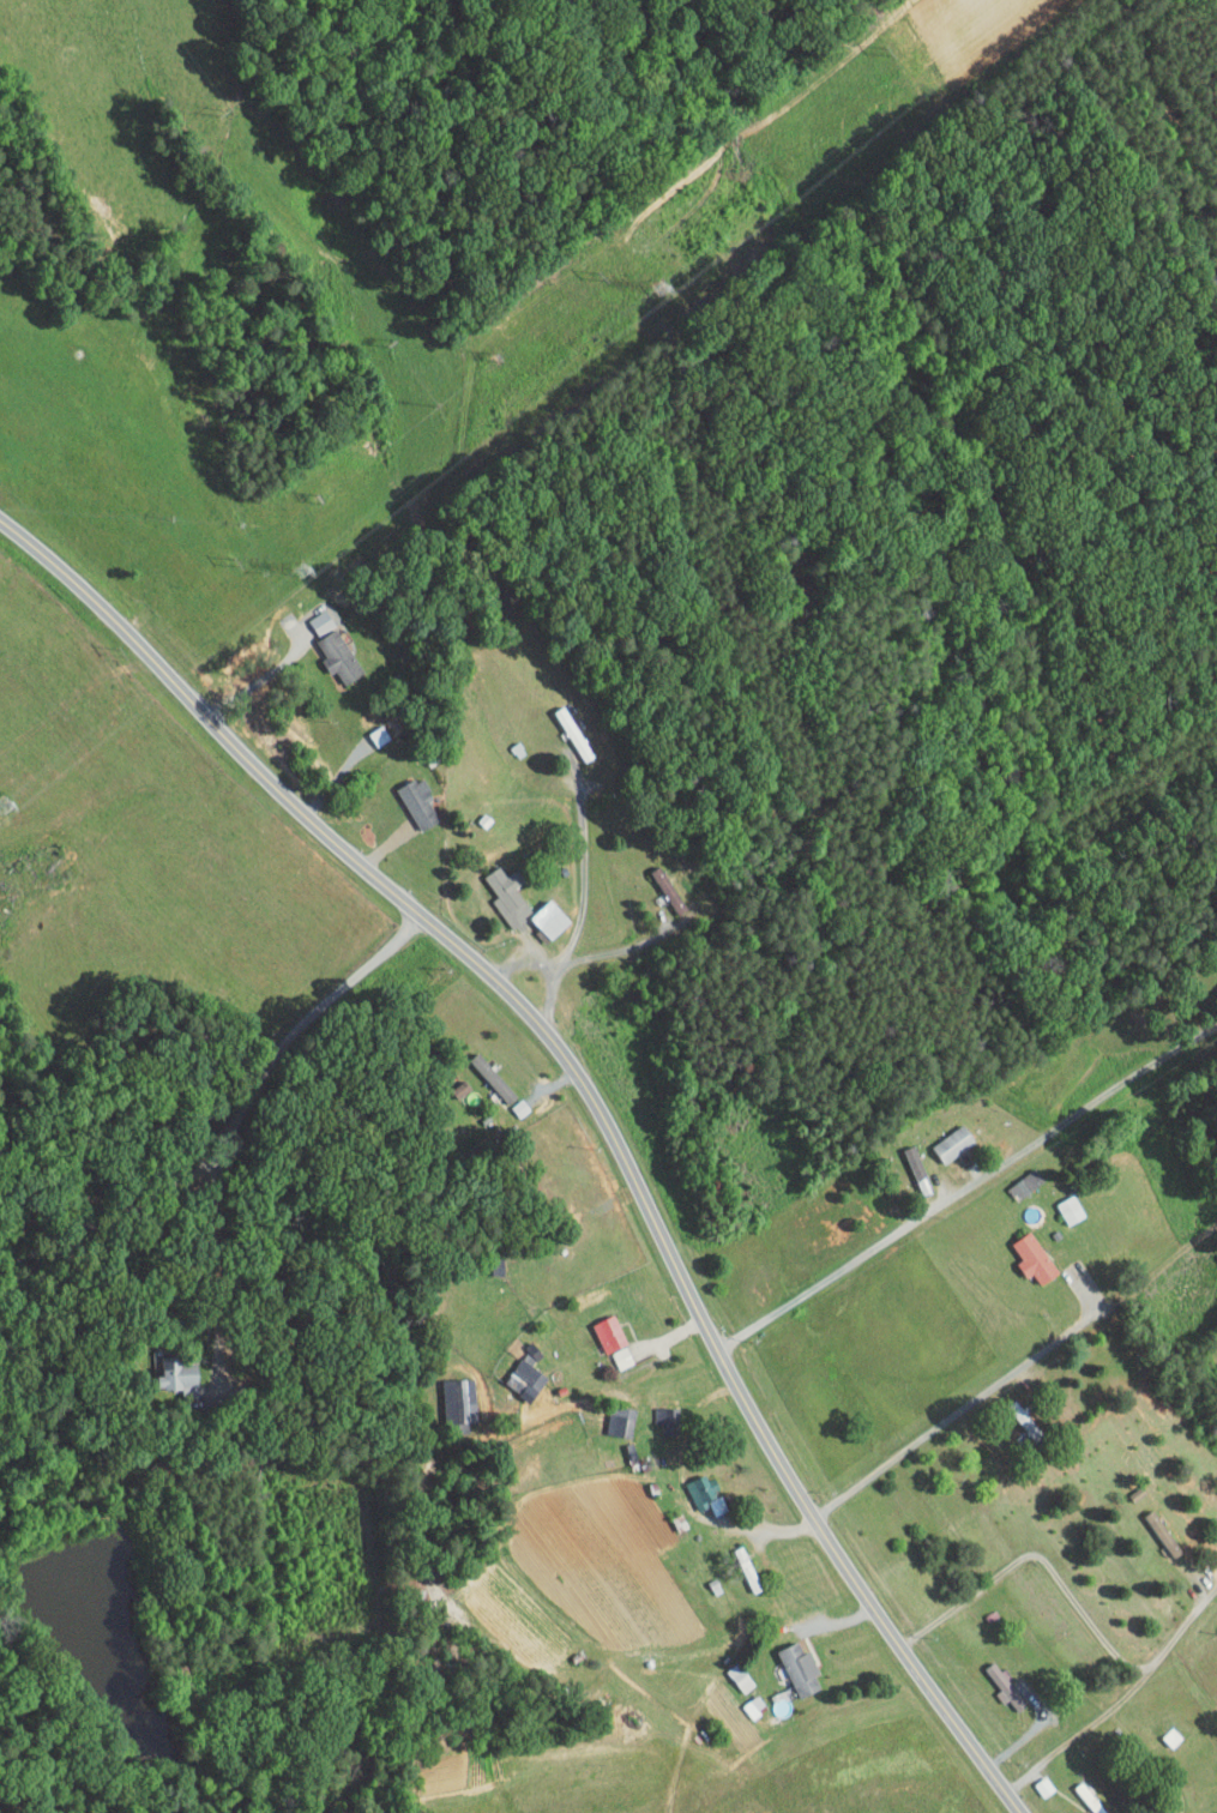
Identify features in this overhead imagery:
power tower: (667, 290)
power tower: (307, 571)
building: (309, 615)
building: (327, 650)
road: (258, 681)
building: (366, 728)
building: (408, 796)
power tower: (5, 805)
building: (495, 889)
building: (662, 892)
building: (538, 911)
road: (580, 914)
road: (522, 960)
building: (507, 1100)
road: (591, 1103)
road: (234, 1126)
building: (941, 1136)
building: (1013, 1176)
road: (965, 1186)
building: (1023, 1251)
road: (217, 1253)
building: (597, 1325)
building: (610, 1349)
building: (163, 1366)
building: (514, 1371)
building: (446, 1392)
road: (954, 1413)
building: (608, 1416)
building: (692, 1486)
road: (757, 1529)
building: (1157, 1536)
road: (1070, 1592)
building: (788, 1662)
building: (728, 1669)
building: (993, 1679)
road: (1032, 1730)
road: (1073, 1730)
building: (1032, 1778)

